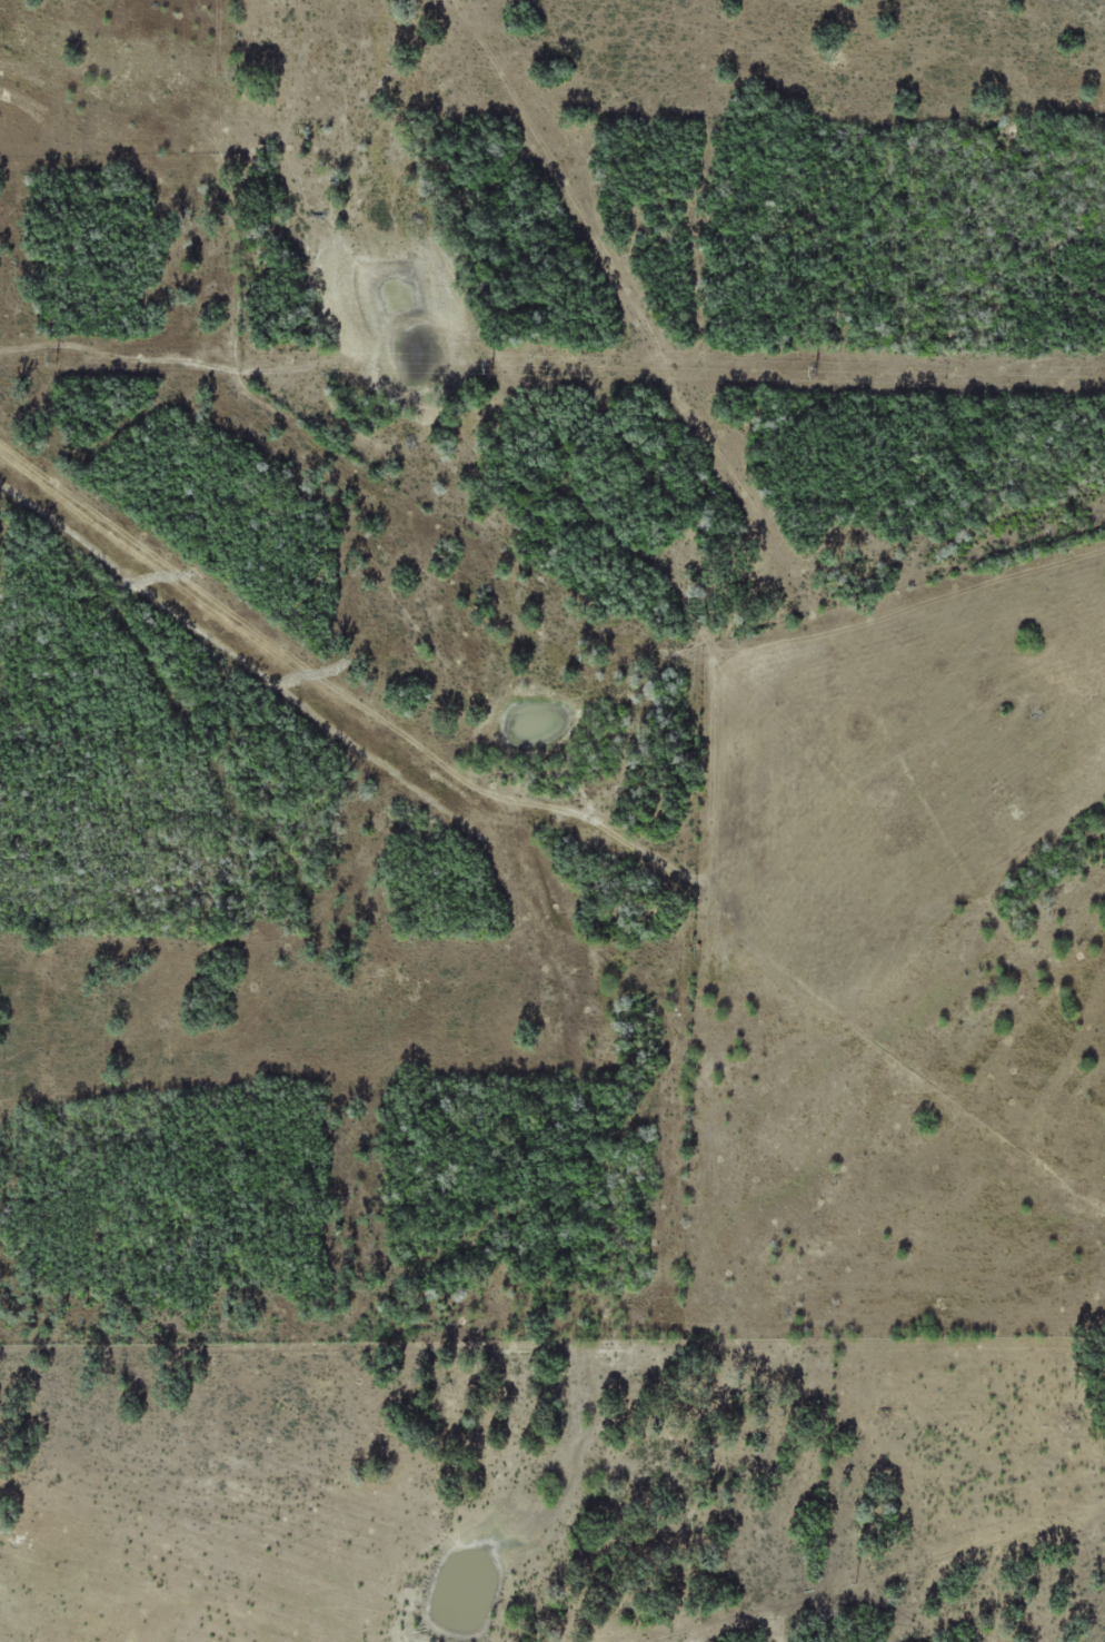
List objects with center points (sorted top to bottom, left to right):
power tower: (57, 353)
power tower: (491, 363)
power tower: (814, 370)

